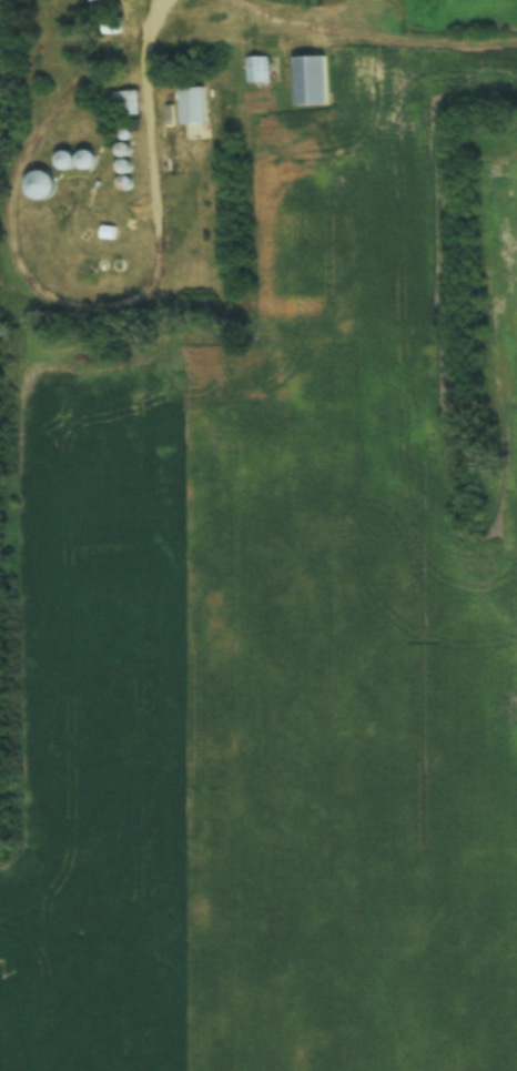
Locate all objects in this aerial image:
building: (91, 0)
road: (142, 61)
building: (258, 71)
building: (311, 81)
building: (125, 104)
building: (194, 105)
building: (78, 161)
building: (126, 184)
building: (41, 186)
building: (108, 233)

